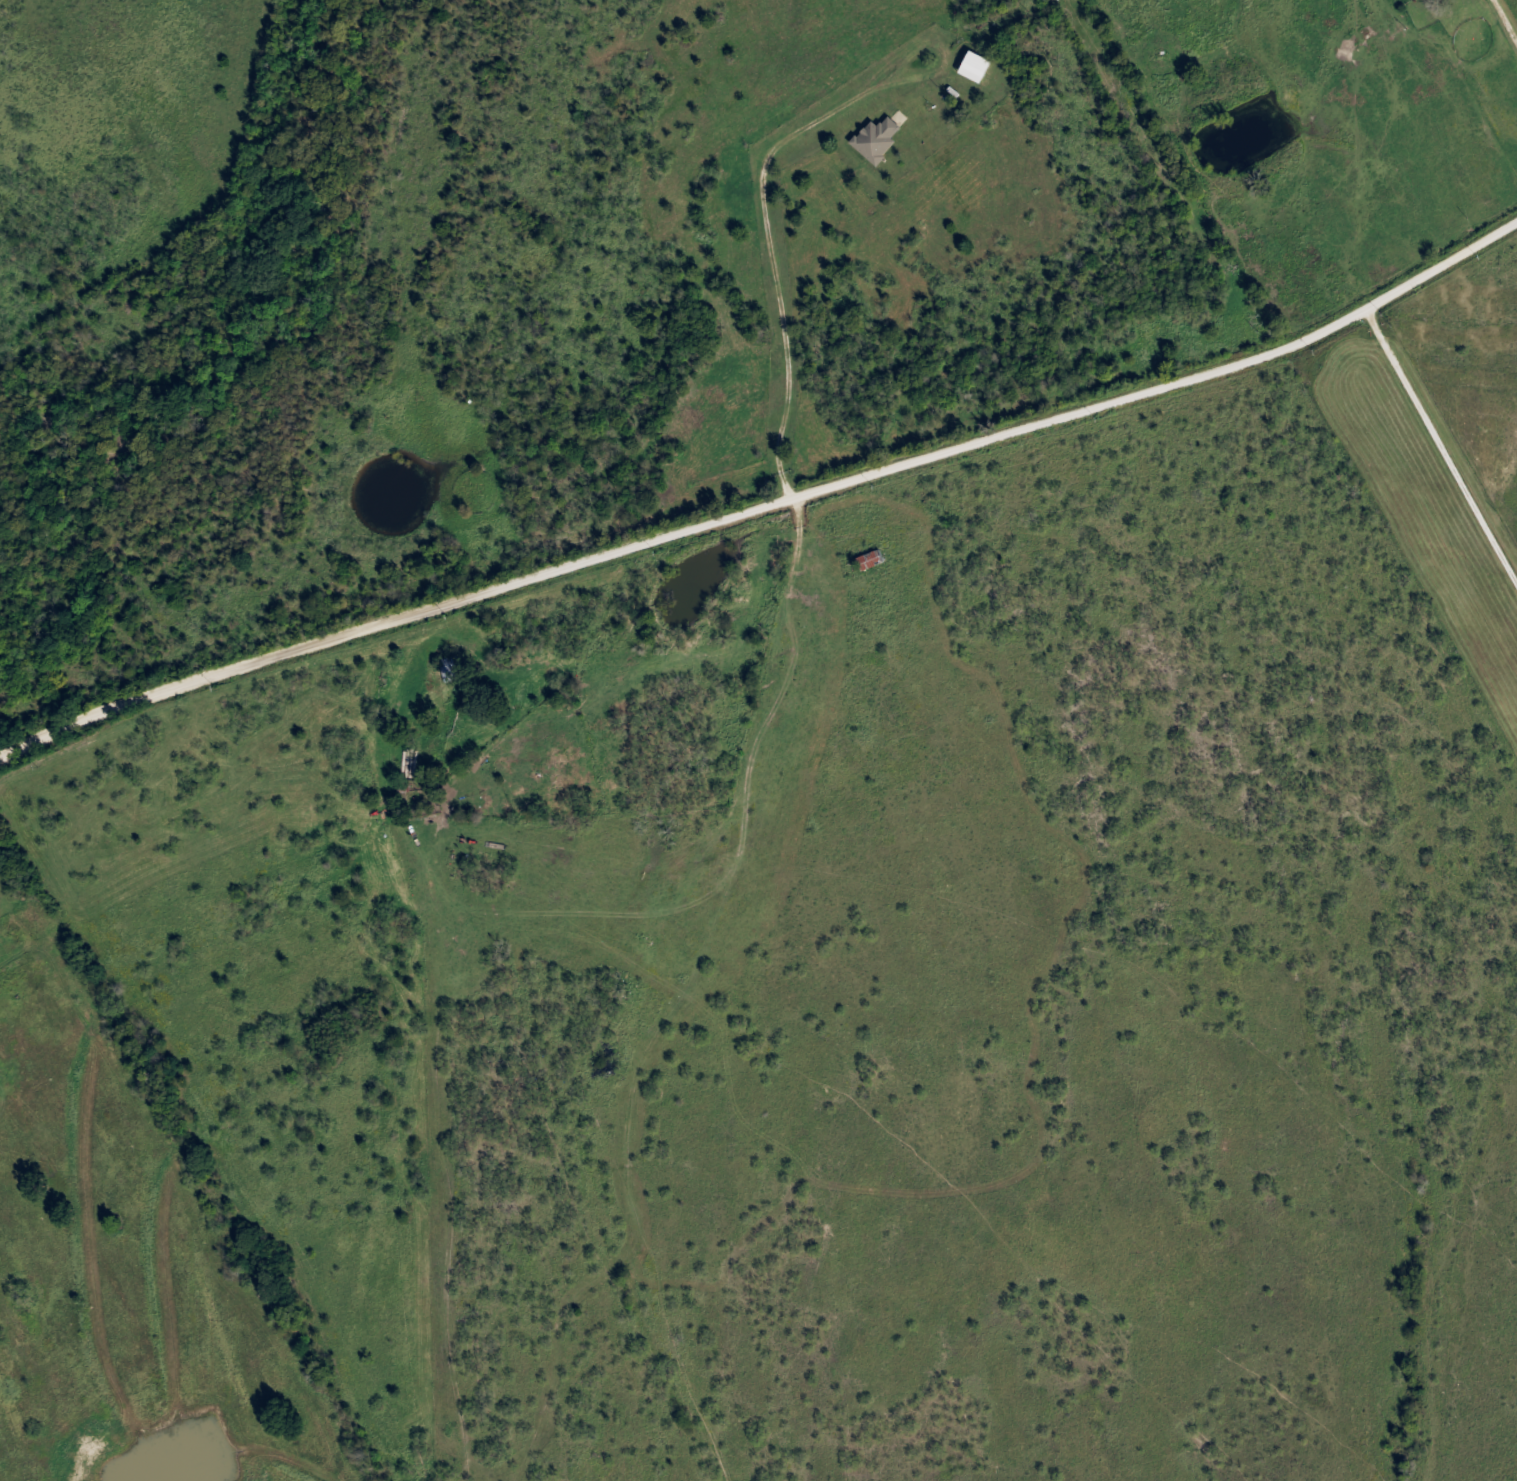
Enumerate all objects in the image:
building: (979, 69)
building: (879, 141)
road: (1181, 172)
road: (765, 509)

